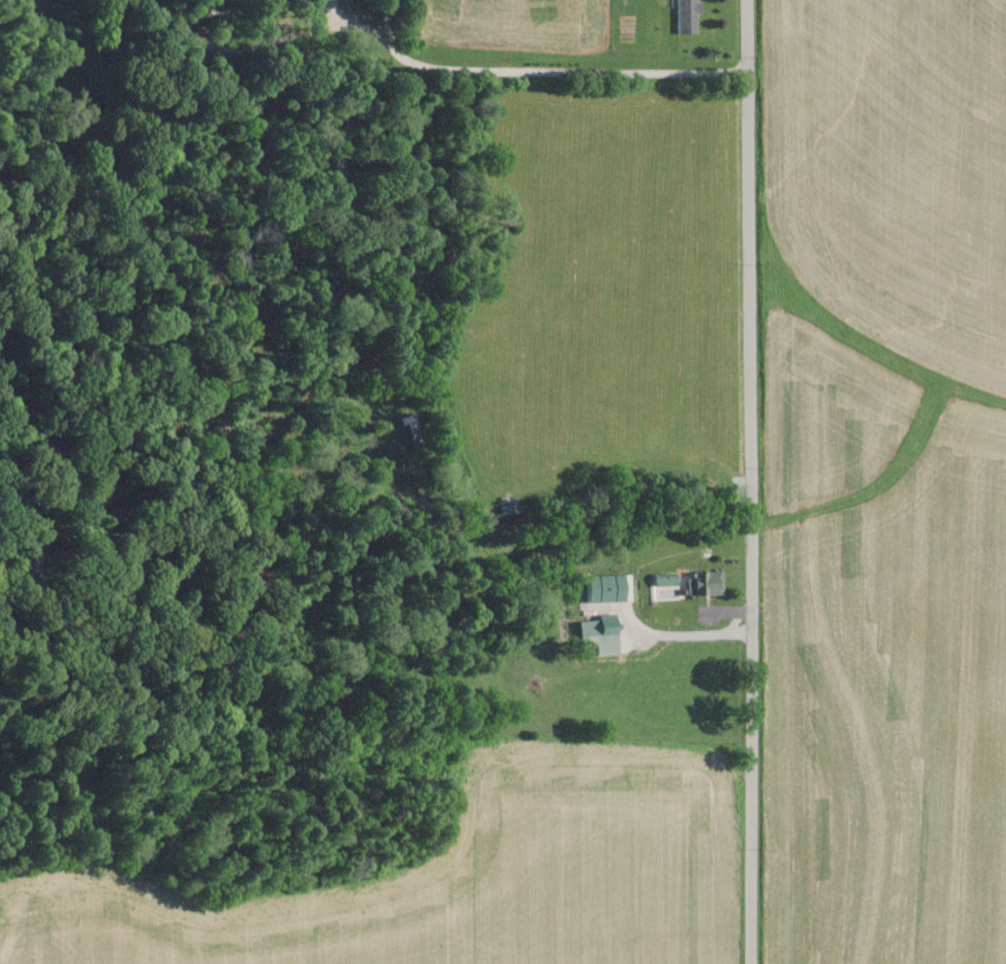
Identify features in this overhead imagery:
building: (686, 15)
road: (545, 69)
road: (755, 481)
building: (704, 583)
road: (692, 601)
building: (600, 625)

